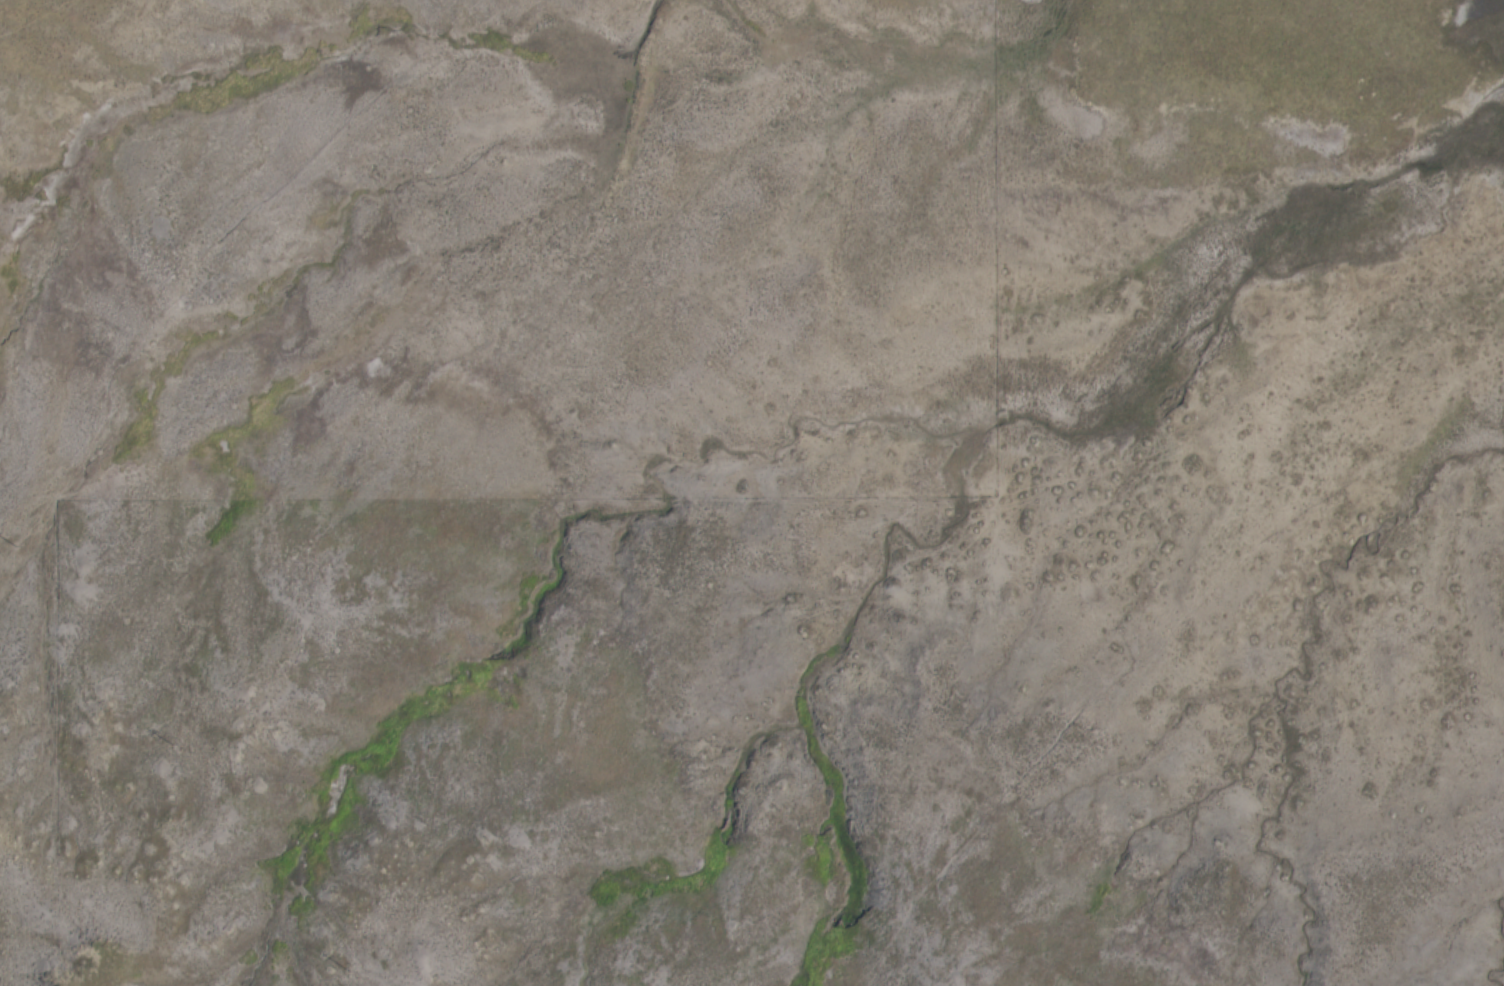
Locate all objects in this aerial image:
power tower: (23, 546)
power tower: (178, 744)
power tower: (358, 974)

